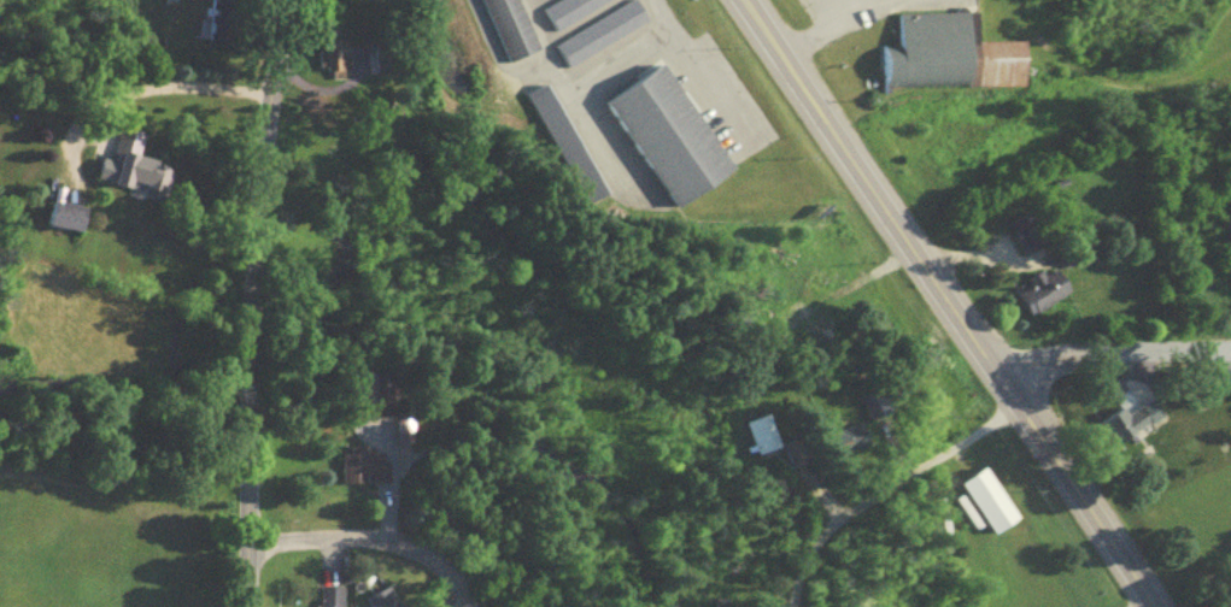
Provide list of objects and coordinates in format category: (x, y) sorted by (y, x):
building: (219, 25)
road: (828, 29)
building: (509, 31)
road: (628, 49)
building: (951, 61)
building: (332, 70)
road: (701, 90)
road: (146, 94)
building: (672, 142)
building: (134, 171)
building: (1028, 238)
building: (1044, 297)
road: (253, 301)
road: (940, 302)
building: (796, 319)
building: (820, 337)
road: (1119, 373)
building: (875, 408)
building: (1122, 431)
building: (762, 440)
building: (850, 444)
building: (793, 456)
building: (367, 472)
road: (896, 501)
building: (990, 507)
road: (373, 543)
building: (330, 600)
building: (385, 601)

